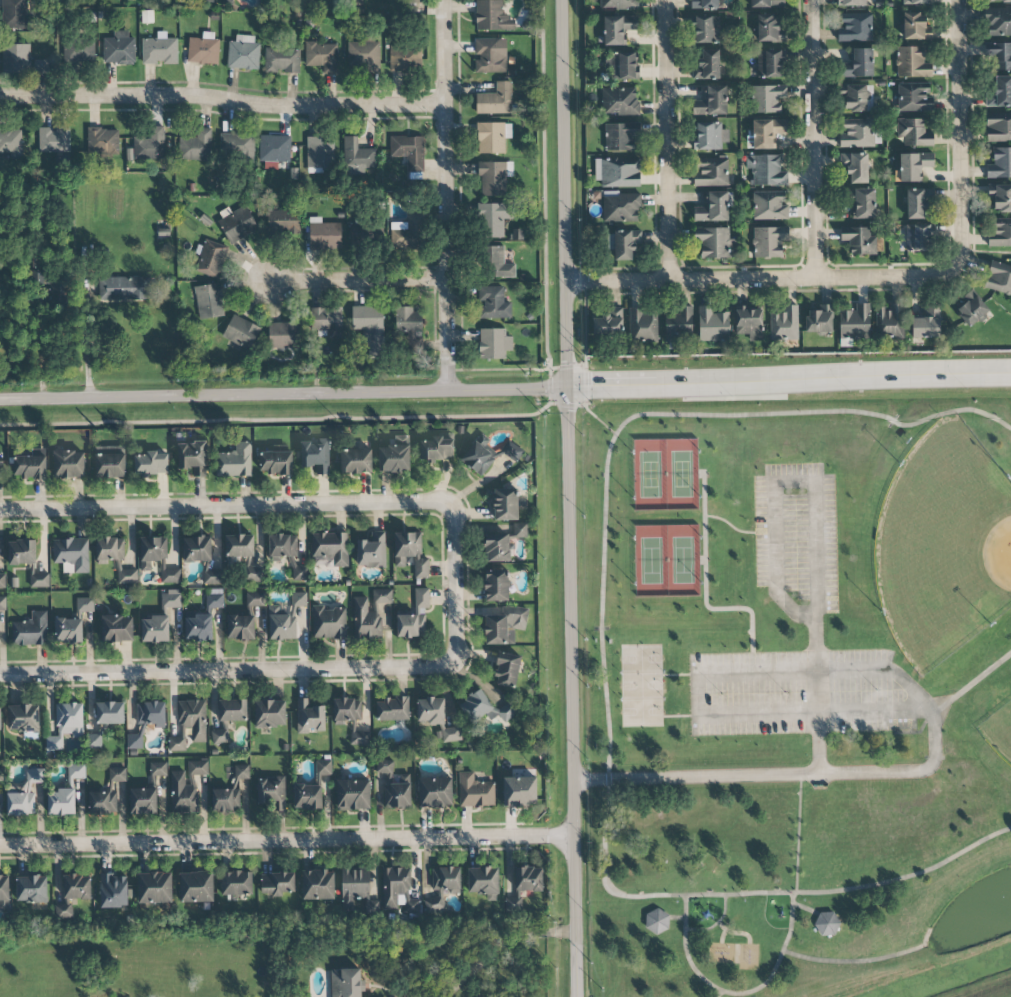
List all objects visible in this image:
building: (1000, 0)
building: (226, 2)
building: (915, 2)
building: (766, 3)
building: (851, 3)
building: (618, 4)
building: (704, 4)
building: (492, 16)
building: (998, 21)
building: (855, 27)
building: (915, 27)
building: (617, 29)
building: (706, 29)
building: (768, 29)
building: (118, 49)
building: (159, 49)
building: (203, 49)
building: (78, 52)
building: (243, 52)
building: (999, 54)
building: (490, 55)
building: (321, 56)
building: (363, 56)
building: (15, 58)
building: (405, 58)
building: (281, 60)
building: (912, 62)
building: (770, 64)
building: (859, 64)
building: (707, 65)
building: (40, 66)
building: (621, 66)
building: (1000, 92)
building: (856, 97)
building: (914, 97)
building: (767, 98)
road: (224, 100)
building: (495, 100)
building: (618, 101)
building: (711, 102)
building: (998, 127)
building: (767, 132)
building: (913, 132)
building: (857, 133)
road: (959, 134)
building: (621, 136)
building: (709, 136)
building: (492, 137)
road: (812, 139)
building: (53, 140)
road: (666, 140)
building: (102, 141)
building: (11, 144)
building: (149, 145)
building: (196, 146)
building: (236, 146)
building: (274, 149)
building: (408, 151)
building: (319, 153)
building: (357, 157)
building: (1000, 163)
building: (914, 166)
building: (855, 167)
building: (766, 170)
building: (711, 171)
building: (617, 172)
building: (494, 178)
road: (450, 194)
building: (1000, 197)
building: (863, 203)
building: (915, 203)
building: (769, 205)
building: (621, 208)
building: (713, 208)
building: (494, 221)
building: (283, 222)
building: (237, 224)
building: (999, 232)
building: (408, 234)
building: (324, 235)
building: (365, 236)
building: (918, 238)
building: (859, 240)
building: (769, 241)
building: (715, 242)
building: (622, 243)
building: (211, 258)
building: (498, 263)
building: (999, 278)
road: (762, 279)
road: (361, 281)
building: (124, 288)
building: (56, 293)
building: (209, 301)
building: (493, 303)
building: (971, 308)
building: (407, 320)
building: (819, 320)
building: (889, 321)
building: (327, 322)
building: (608, 323)
building: (748, 323)
building: (855, 323)
building: (641, 324)
building: (927, 324)
building: (679, 325)
building: (712, 325)
building: (784, 325)
building: (369, 328)
building: (240, 332)
building: (284, 335)
building: (493, 344)
road: (82, 349)
road: (790, 383)
road: (284, 393)
building: (437, 449)
building: (39, 451)
building: (488, 454)
building: (315, 456)
building: (192, 458)
building: (234, 461)
building: (356, 461)
building: (109, 462)
building: (1, 463)
building: (276, 463)
building: (68, 464)
building: (150, 464)
building: (29, 467)
park: (659, 475)
road: (780, 479)
road: (572, 498)
road: (223, 504)
building: (505, 504)
building: (519, 530)
parking lot: (797, 538)
building: (239, 546)
building: (497, 547)
road: (604, 547)
building: (110, 548)
building: (196, 549)
building: (329, 549)
building: (371, 551)
building: (22, 552)
building: (410, 553)
building: (286, 554)
building: (71, 555)
building: (157, 558)
park: (662, 560)
park: (952, 571)
building: (253, 575)
building: (213, 577)
building: (39, 580)
road: (454, 580)
building: (2, 581)
building: (496, 585)
building: (171, 598)
building: (214, 598)
building: (255, 598)
building: (422, 598)
building: (299, 599)
building: (2, 603)
building: (85, 604)
building: (369, 614)
building: (282, 623)
building: (328, 623)
building: (410, 624)
building: (504, 624)
building: (198, 626)
building: (240, 627)
building: (116, 629)
building: (155, 629)
building: (31, 630)
building: (68, 631)
road: (227, 669)
building: (506, 670)
road: (697, 680)
park: (793, 682)
park: (636, 687)
parking lot: (802, 693)
road: (817, 695)
building: (392, 709)
building: (483, 709)
building: (232, 710)
building: (430, 711)
building: (109, 713)
building: (151, 713)
building: (269, 713)
building: (0, 716)
building: (309, 717)
building: (23, 718)
building: (351, 718)
building: (193, 719)
building: (66, 724)
building: (220, 734)
building: (450, 734)
building: (136, 739)
building: (94, 741)
building: (176, 744)
road: (936, 751)
building: (384, 766)
building: (323, 767)
building: (158, 769)
building: (241, 772)
building: (1, 774)
building: (117, 775)
road: (747, 776)
building: (186, 787)
building: (475, 791)
building: (519, 791)
building: (271, 792)
building: (435, 792)
building: (353, 794)
building: (398, 794)
building: (23, 795)
building: (307, 797)
building: (103, 800)
building: (225, 800)
building: (61, 802)
road: (798, 834)
road: (290, 839)
road: (907, 876)
building: (527, 879)
building: (483, 882)
building: (236, 883)
building: (277, 884)
building: (395, 884)
building: (317, 885)
building: (76, 886)
building: (196, 887)
building: (154, 888)
building: (31, 889)
building: (113, 891)
building: (4, 892)
building: (514, 902)
building: (65, 909)
building: (656, 921)
building: (826, 923)
road: (505, 949)
road: (685, 950)
road: (857, 961)
road: (777, 965)
building: (344, 983)
road: (402, 994)

